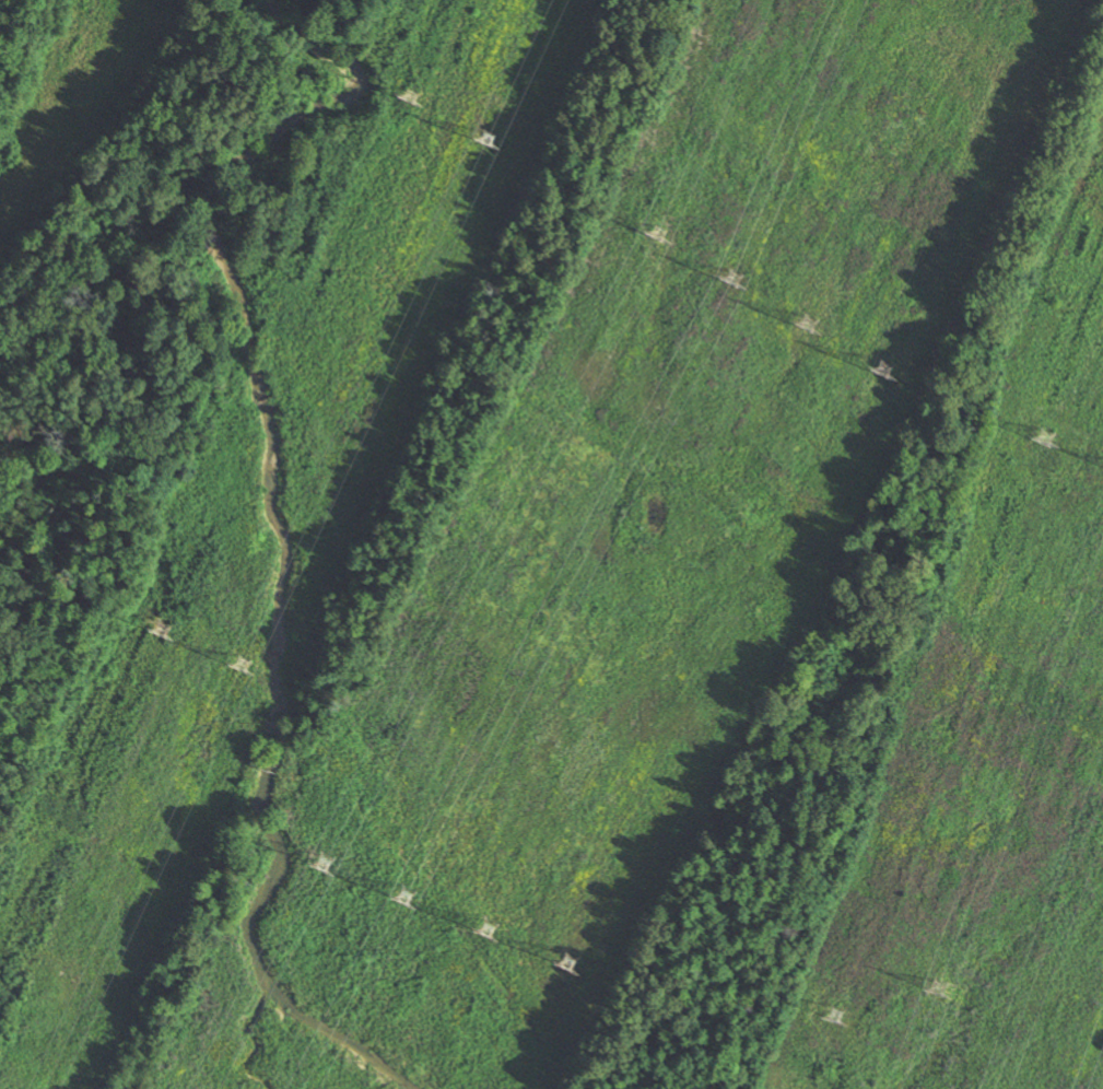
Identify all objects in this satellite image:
power tower: (410, 97)
power tower: (485, 140)
power tower: (656, 233)
power tower: (731, 279)
power tower: (812, 349)
power tower: (884, 371)
power tower: (1042, 437)
power tower: (161, 629)
power tower: (239, 663)
power tower: (320, 864)
power tower: (403, 895)
power tower: (489, 953)
power tower: (570, 960)
power tower: (939, 991)
power tower: (832, 1015)

